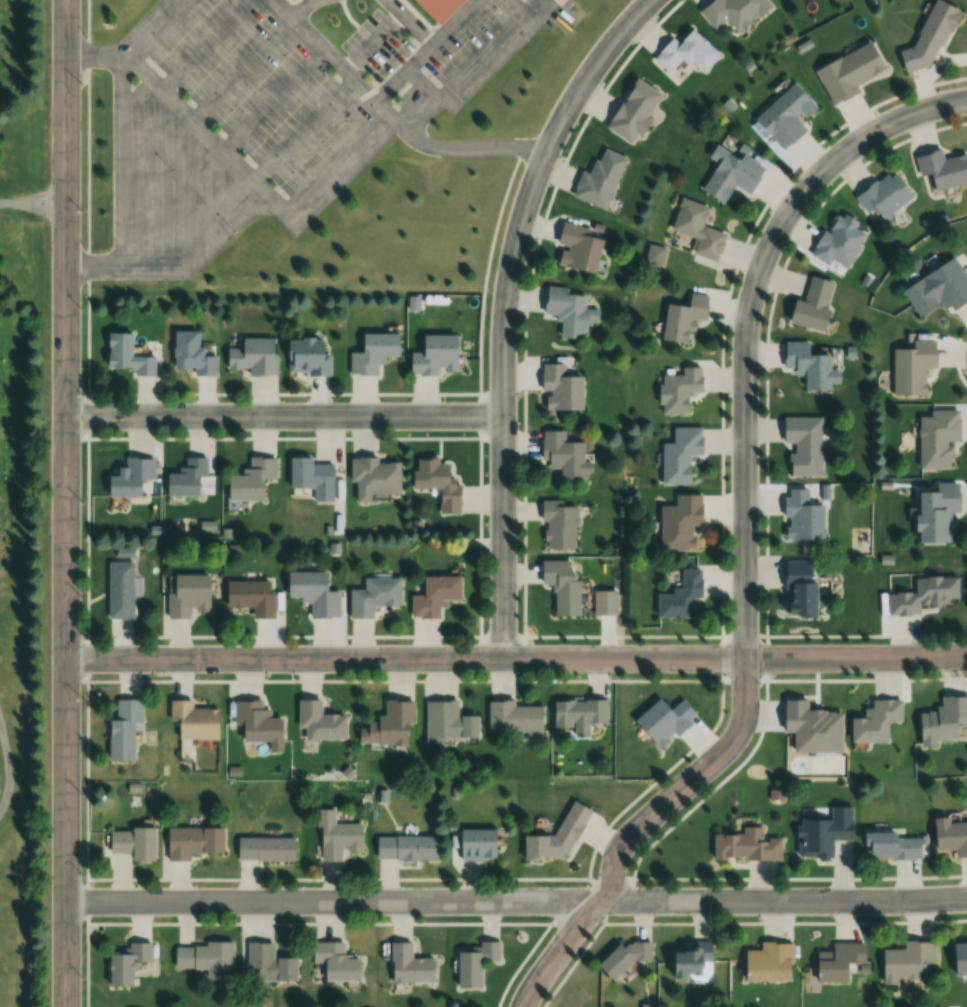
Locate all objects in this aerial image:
building: (553, 3)
road: (299, 8)
building: (431, 10)
building: (731, 11)
road: (447, 22)
road: (158, 28)
building: (929, 36)
road: (369, 44)
parking lot: (471, 45)
parking lot: (371, 47)
road: (420, 48)
building: (684, 53)
road: (185, 57)
road: (470, 67)
parking lot: (242, 71)
building: (847, 72)
road: (207, 100)
road: (184, 111)
building: (631, 111)
building: (783, 115)
road: (387, 117)
road: (224, 147)
parking lot: (313, 148)
road: (119, 160)
road: (332, 162)
building: (942, 169)
road: (262, 172)
building: (729, 175)
building: (598, 179)
road: (528, 190)
building: (882, 195)
road: (33, 203)
street lamp: (82, 210)
building: (696, 228)
building: (836, 241)
building: (576, 247)
road: (120, 266)
building: (937, 288)
building: (810, 305)
building: (567, 311)
building: (682, 317)
road: (747, 321)
building: (372, 351)
building: (190, 354)
building: (433, 354)
building: (125, 355)
building: (252, 356)
building: (304, 356)
building: (807, 365)
building: (911, 366)
building: (558, 388)
building: (677, 389)
street lamp: (82, 393)
road: (284, 415)
building: (936, 437)
building: (802, 444)
building: (678, 454)
building: (563, 456)
building: (129, 477)
building: (311, 477)
building: (372, 477)
building: (185, 478)
building: (250, 479)
building: (436, 482)
building: (153, 490)
park: (20, 502)
road: (66, 503)
building: (935, 512)
building: (800, 515)
building: (678, 522)
building: (557, 525)
road: (502, 537)
building: (560, 584)
building: (797, 587)
building: (312, 592)
building: (923, 594)
building: (113, 595)
building: (185, 595)
building: (372, 595)
building: (433, 595)
building: (250, 596)
building: (680, 596)
building: (604, 602)
road: (516, 658)
street lamp: (84, 696)
building: (578, 711)
building: (512, 716)
building: (192, 720)
building: (941, 720)
building: (663, 721)
building: (874, 721)
building: (318, 722)
building: (447, 722)
building: (256, 724)
building: (387, 724)
building: (122, 728)
road: (9, 768)
road: (637, 830)
road: (663, 831)
building: (824, 833)
building: (335, 836)
building: (556, 836)
building: (950, 836)
building: (192, 841)
building: (132, 842)
building: (475, 843)
building: (746, 845)
building: (890, 845)
building: (405, 847)
building: (259, 855)
street lamp: (83, 874)
road: (516, 901)
building: (692, 956)
building: (203, 957)
building: (959, 957)
building: (334, 961)
building: (839, 961)
building: (906, 961)
building: (768, 962)
building: (269, 963)
building: (125, 964)
building: (408, 964)
building: (474, 964)

